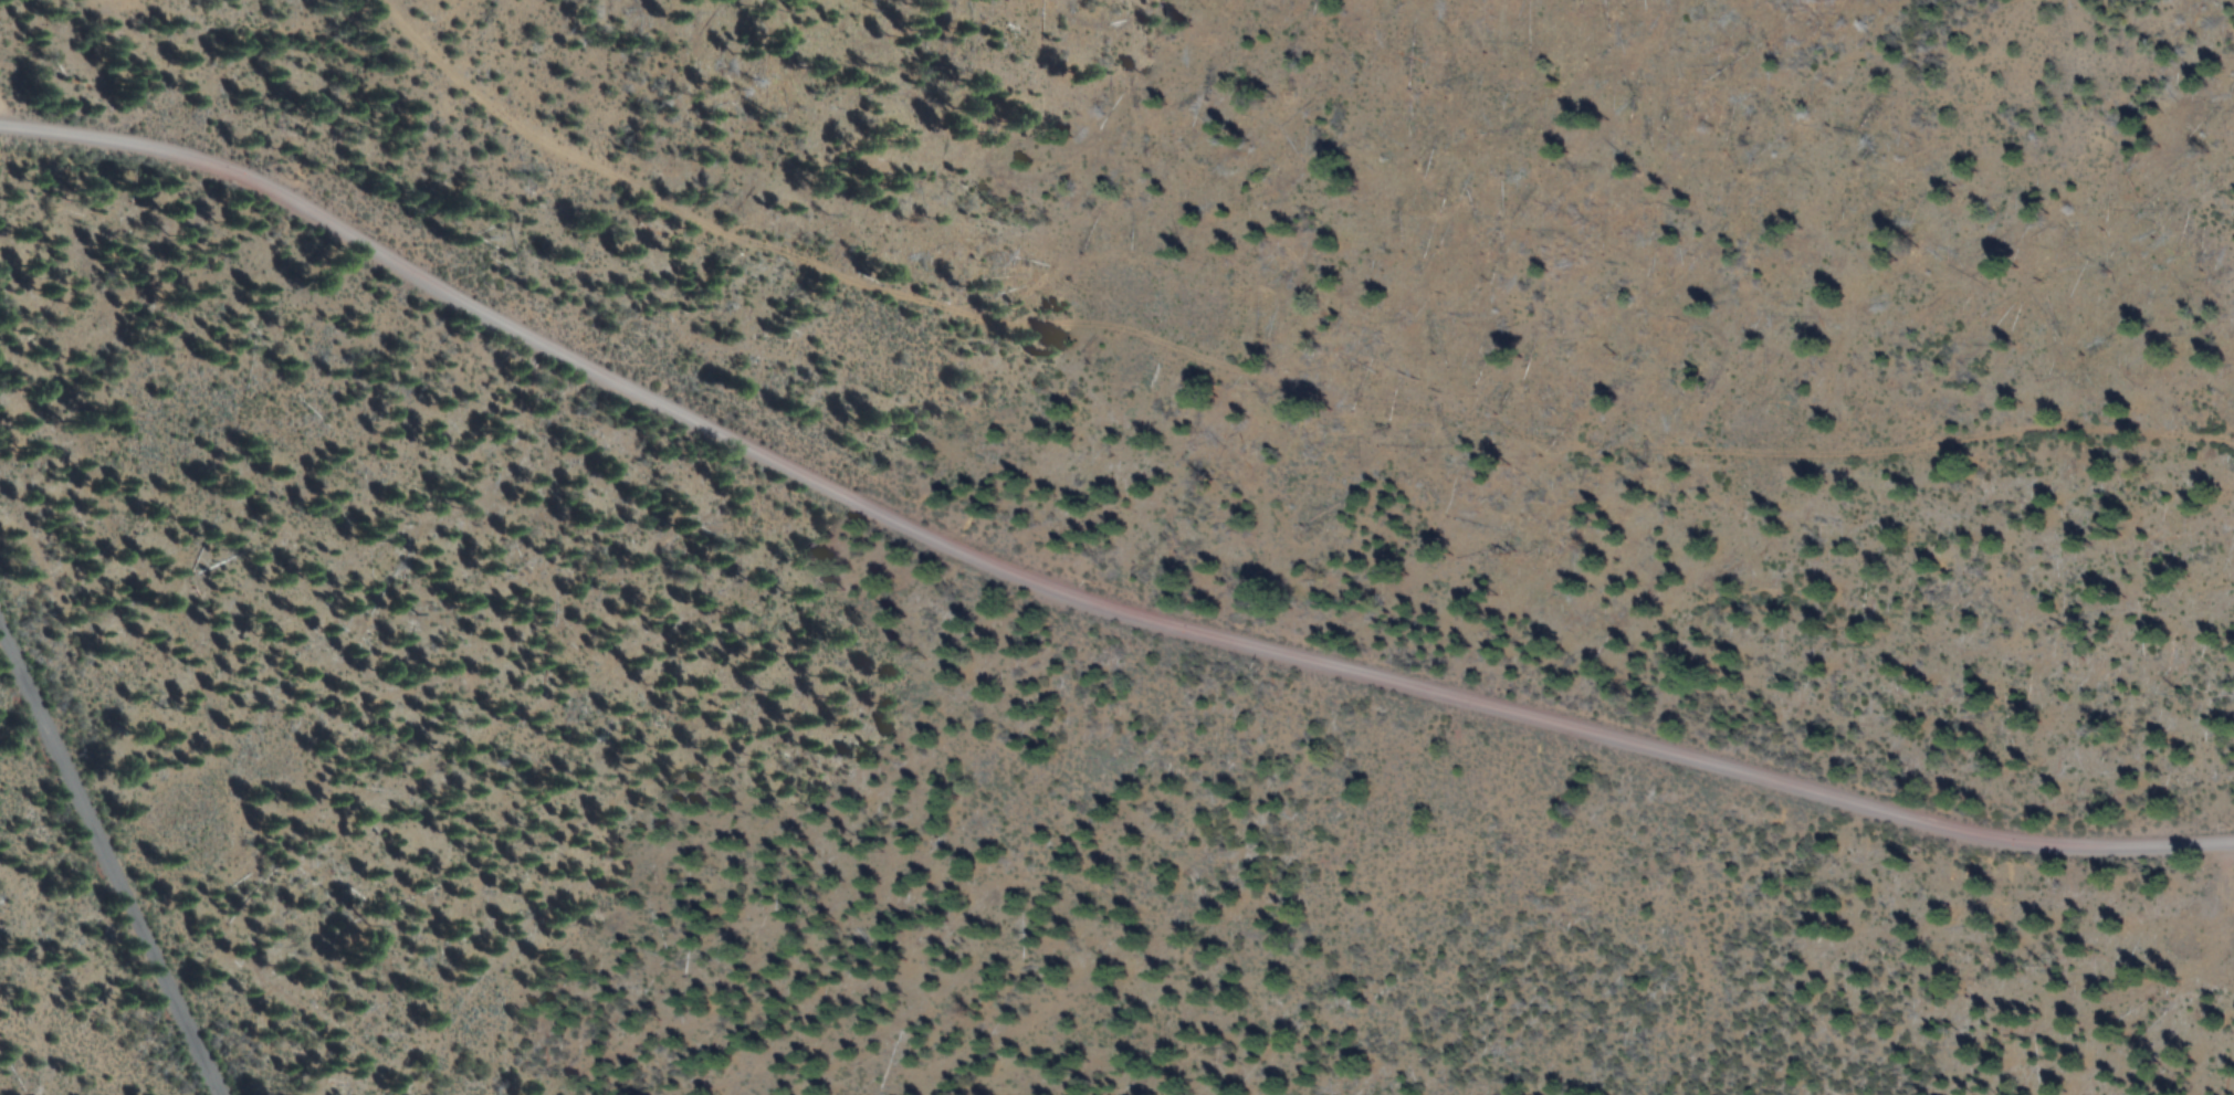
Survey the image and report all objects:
road: (12, 114)
road: (1265, 376)
road: (1078, 599)
road: (111, 857)

